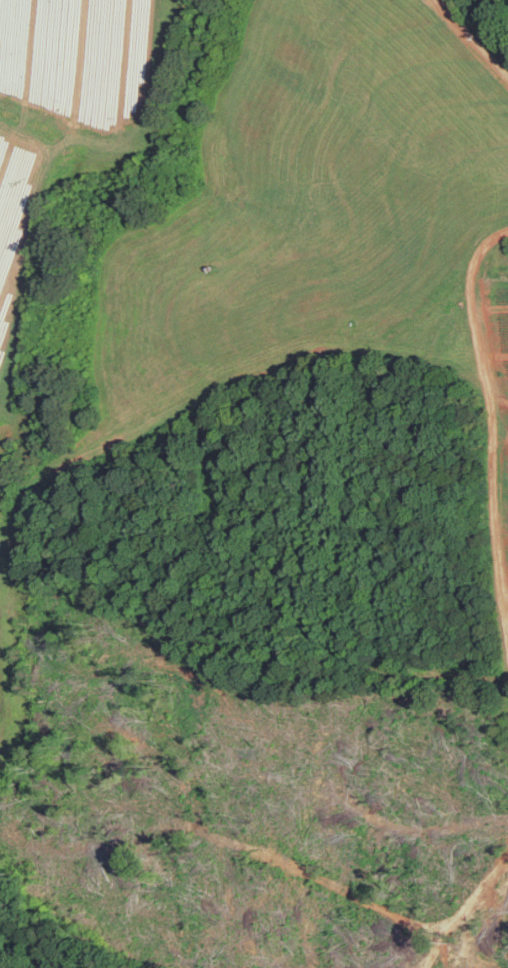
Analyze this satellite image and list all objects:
road: (472, 41)
road: (491, 411)
road: (507, 617)
road: (465, 908)
road: (55, 942)

